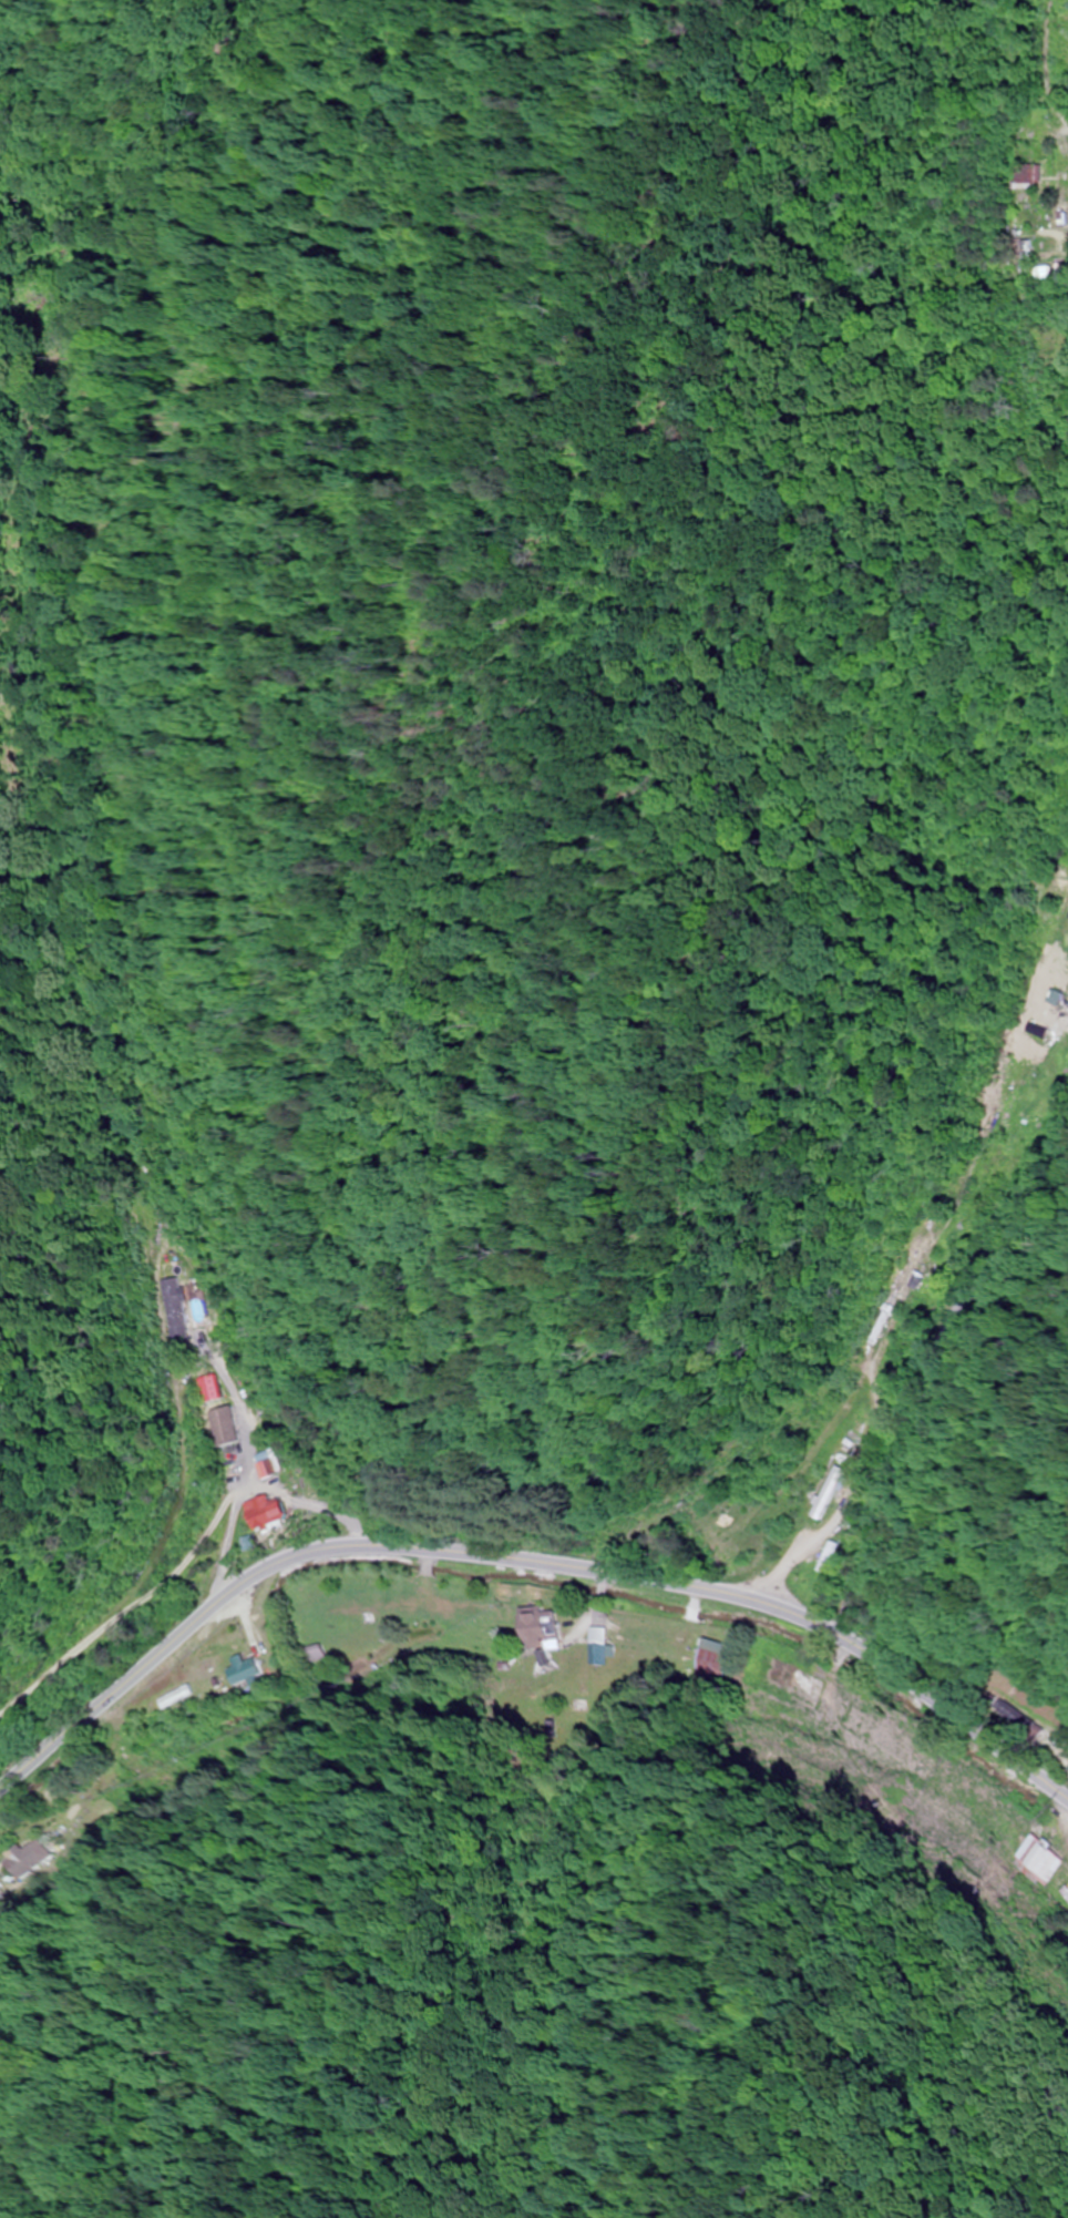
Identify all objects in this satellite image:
road: (1041, 65)
building: (1021, 177)
building: (1050, 243)
building: (1026, 262)
building: (1040, 1023)
building: (171, 1312)
road: (945, 1337)
building: (207, 1390)
building: (220, 1428)
building: (266, 1464)
building: (830, 1494)
road: (235, 1500)
building: (266, 1512)
road: (525, 1562)
building: (540, 1628)
building: (598, 1646)
building: (711, 1658)
building: (248, 1670)
building: (792, 1684)
building: (854, 1723)
building: (34, 1859)
building: (1036, 1861)
building: (1064, 1895)

